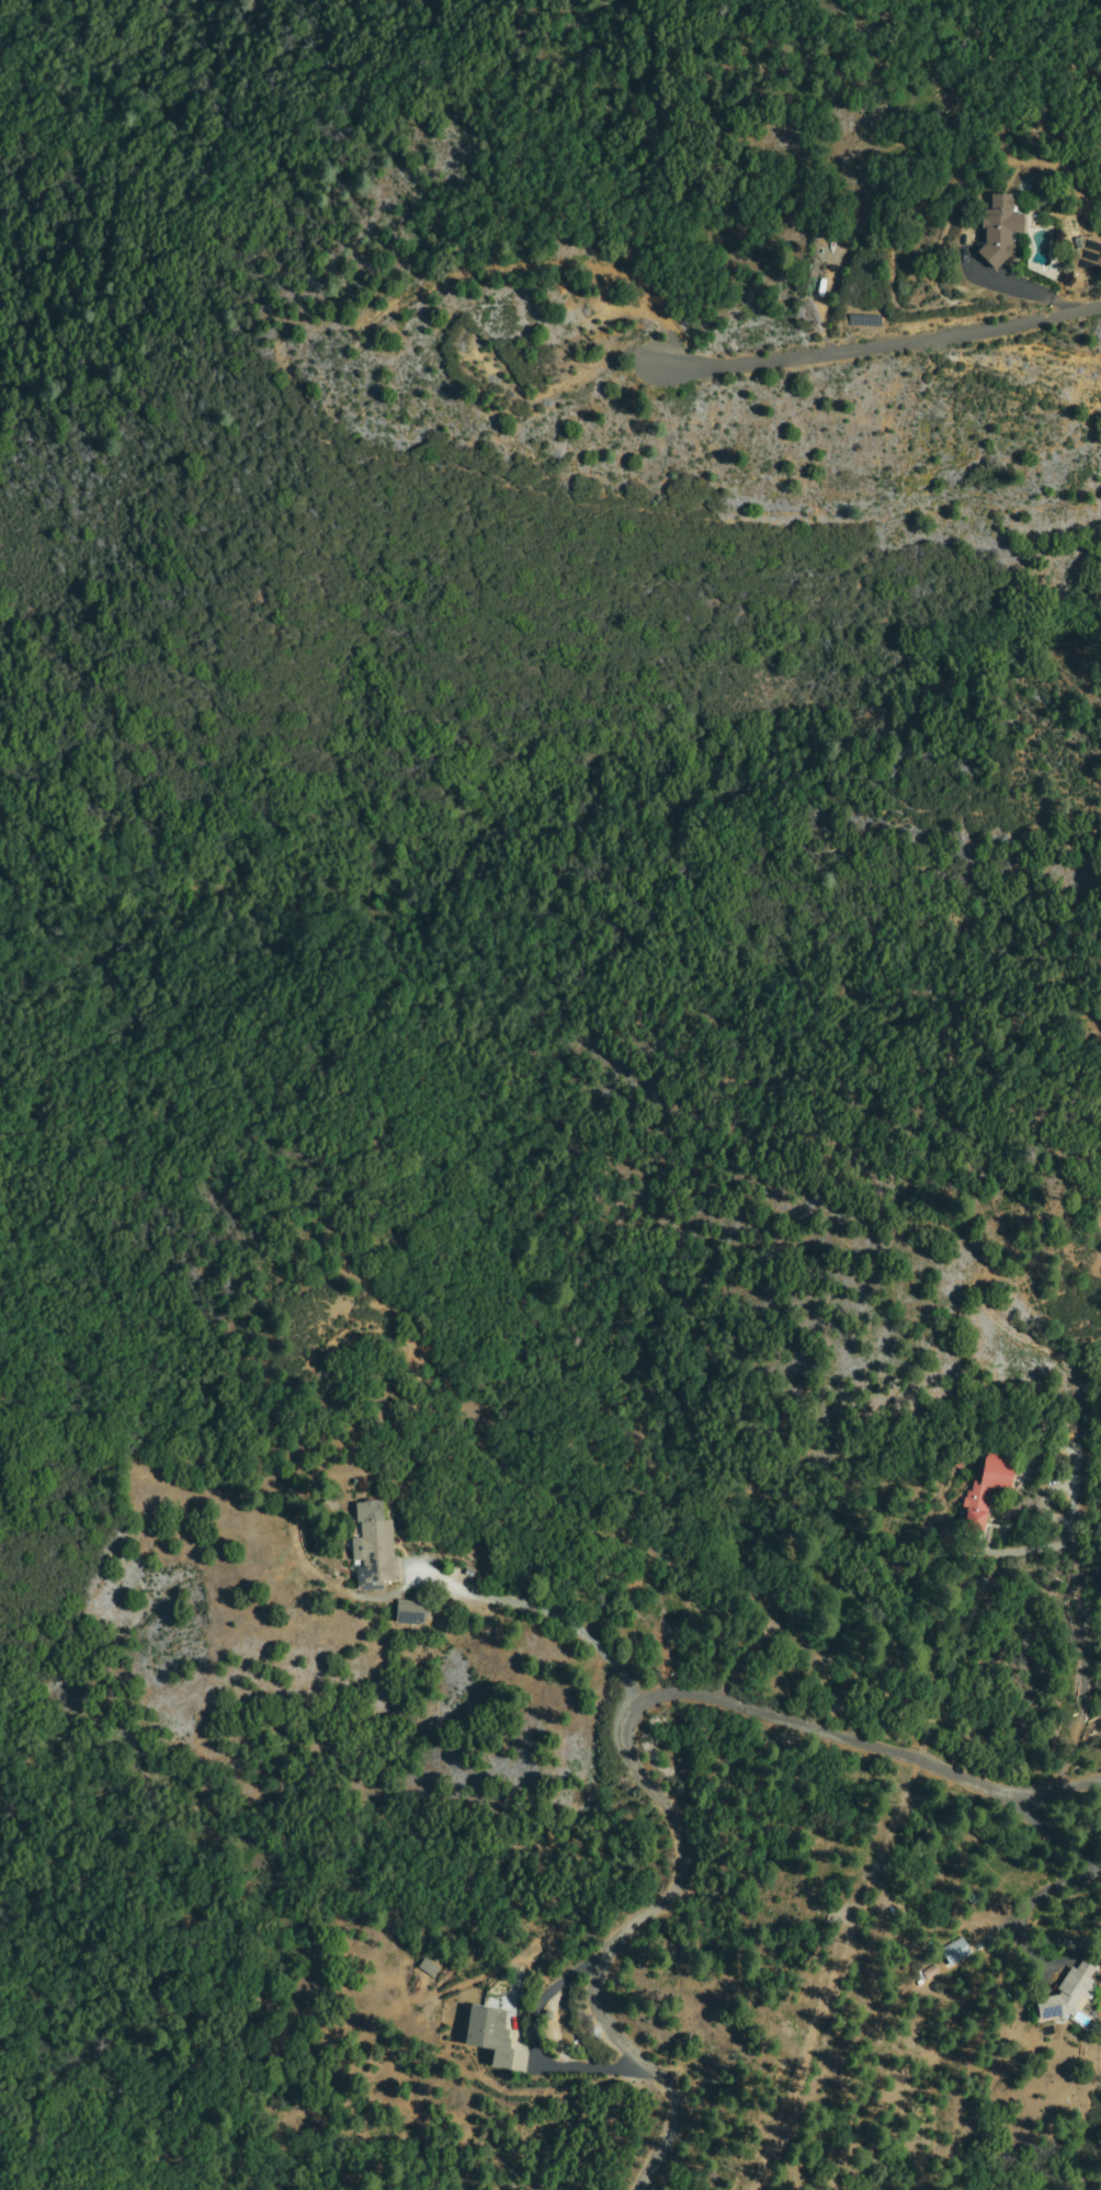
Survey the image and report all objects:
building: (999, 231)
road: (873, 343)
building: (986, 1495)
building: (375, 1550)
building: (411, 1612)
road: (548, 1626)
road: (606, 1747)
building: (956, 1952)
building: (428, 1964)
building: (1068, 1993)
building: (509, 2001)
building: (489, 2033)

